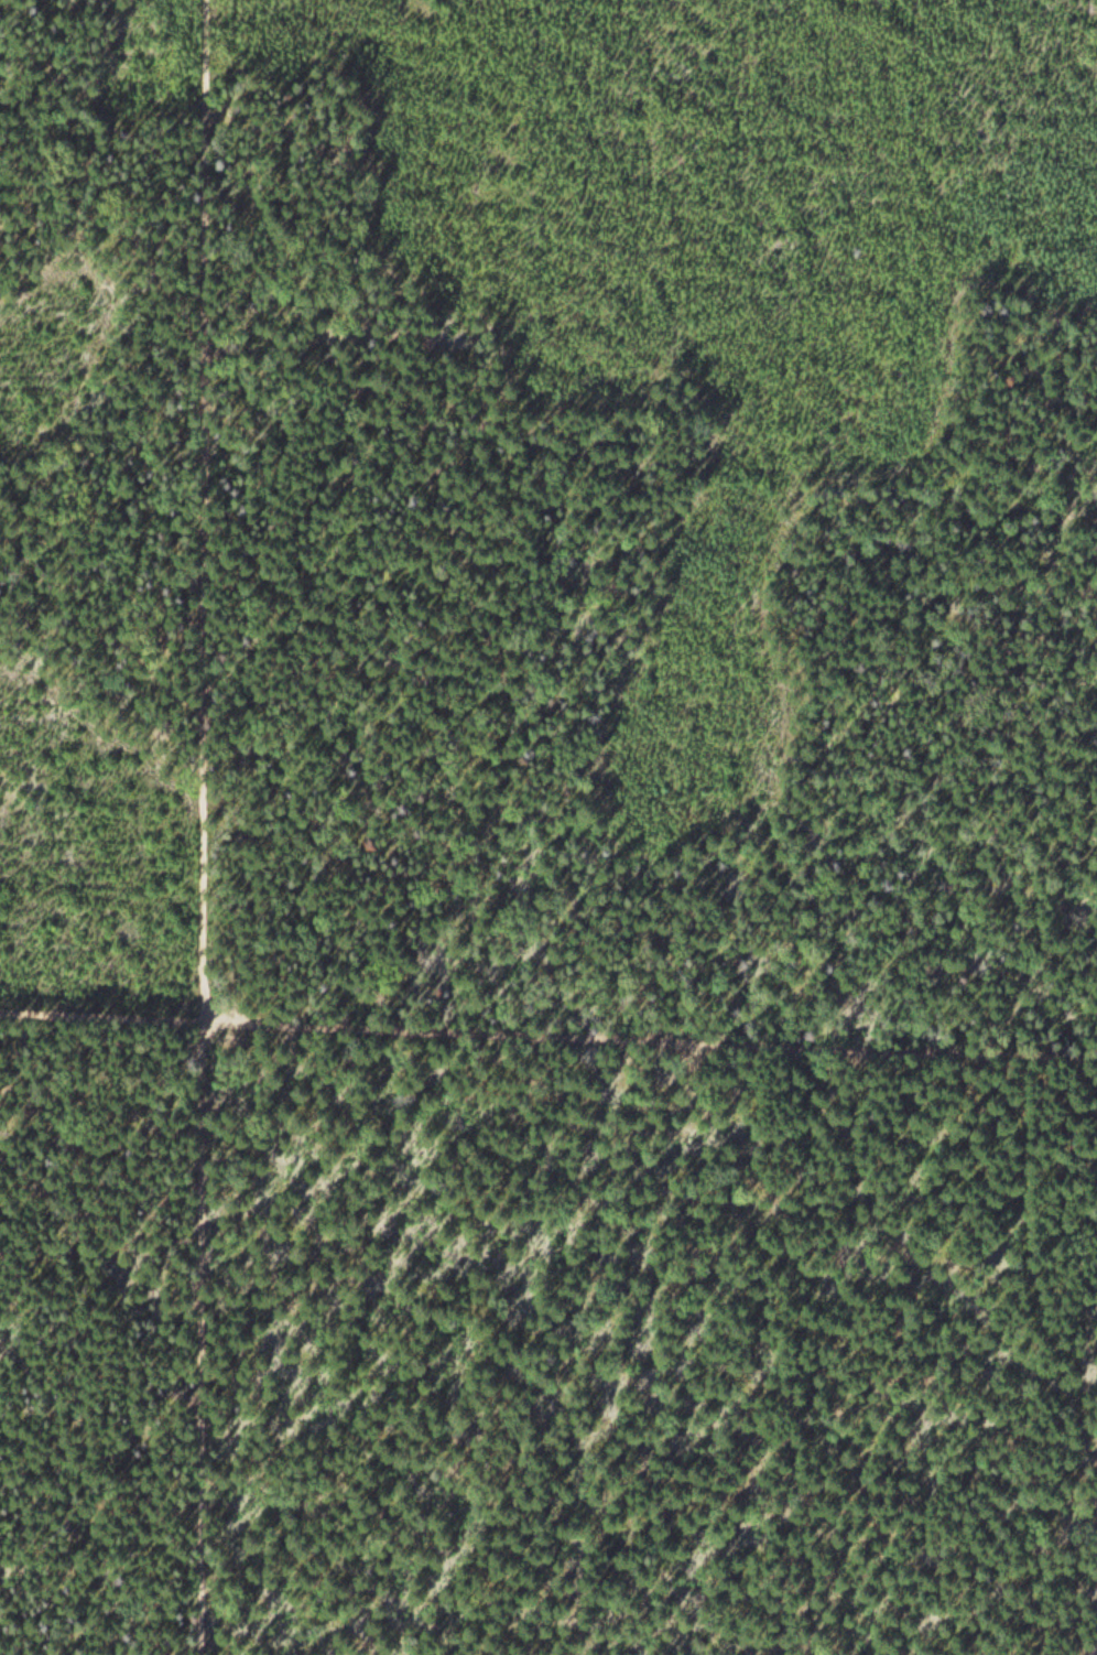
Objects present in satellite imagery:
road: (207, 827)
road: (548, 1012)

